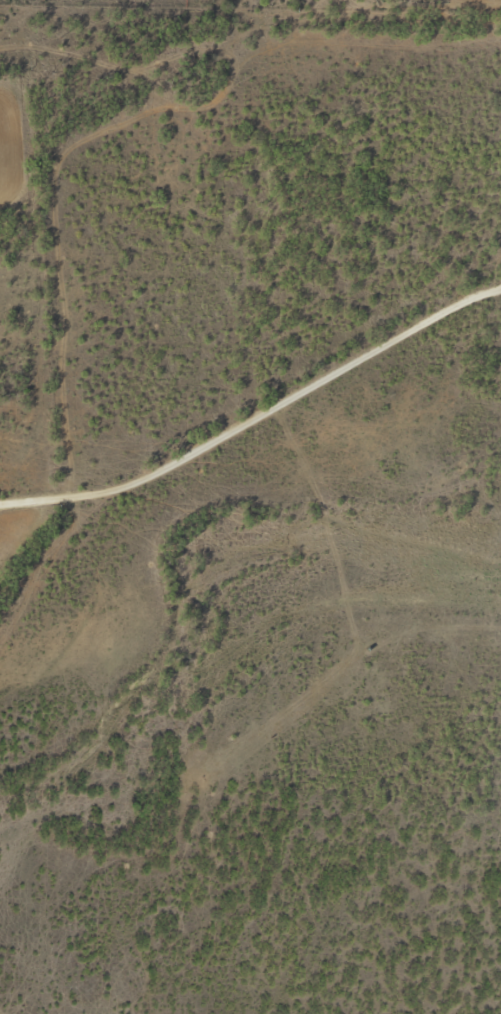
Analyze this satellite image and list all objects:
road: (302, 43)
road: (255, 413)

